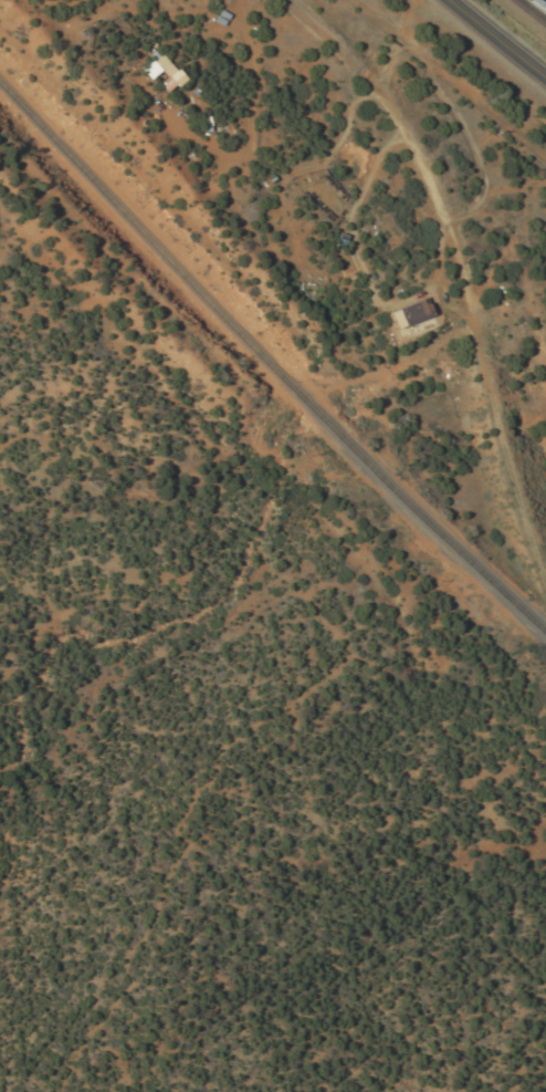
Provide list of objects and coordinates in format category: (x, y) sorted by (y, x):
road: (542, 2)
road: (497, 39)
building: (157, 72)
building: (403, 312)
railway: (266, 364)

